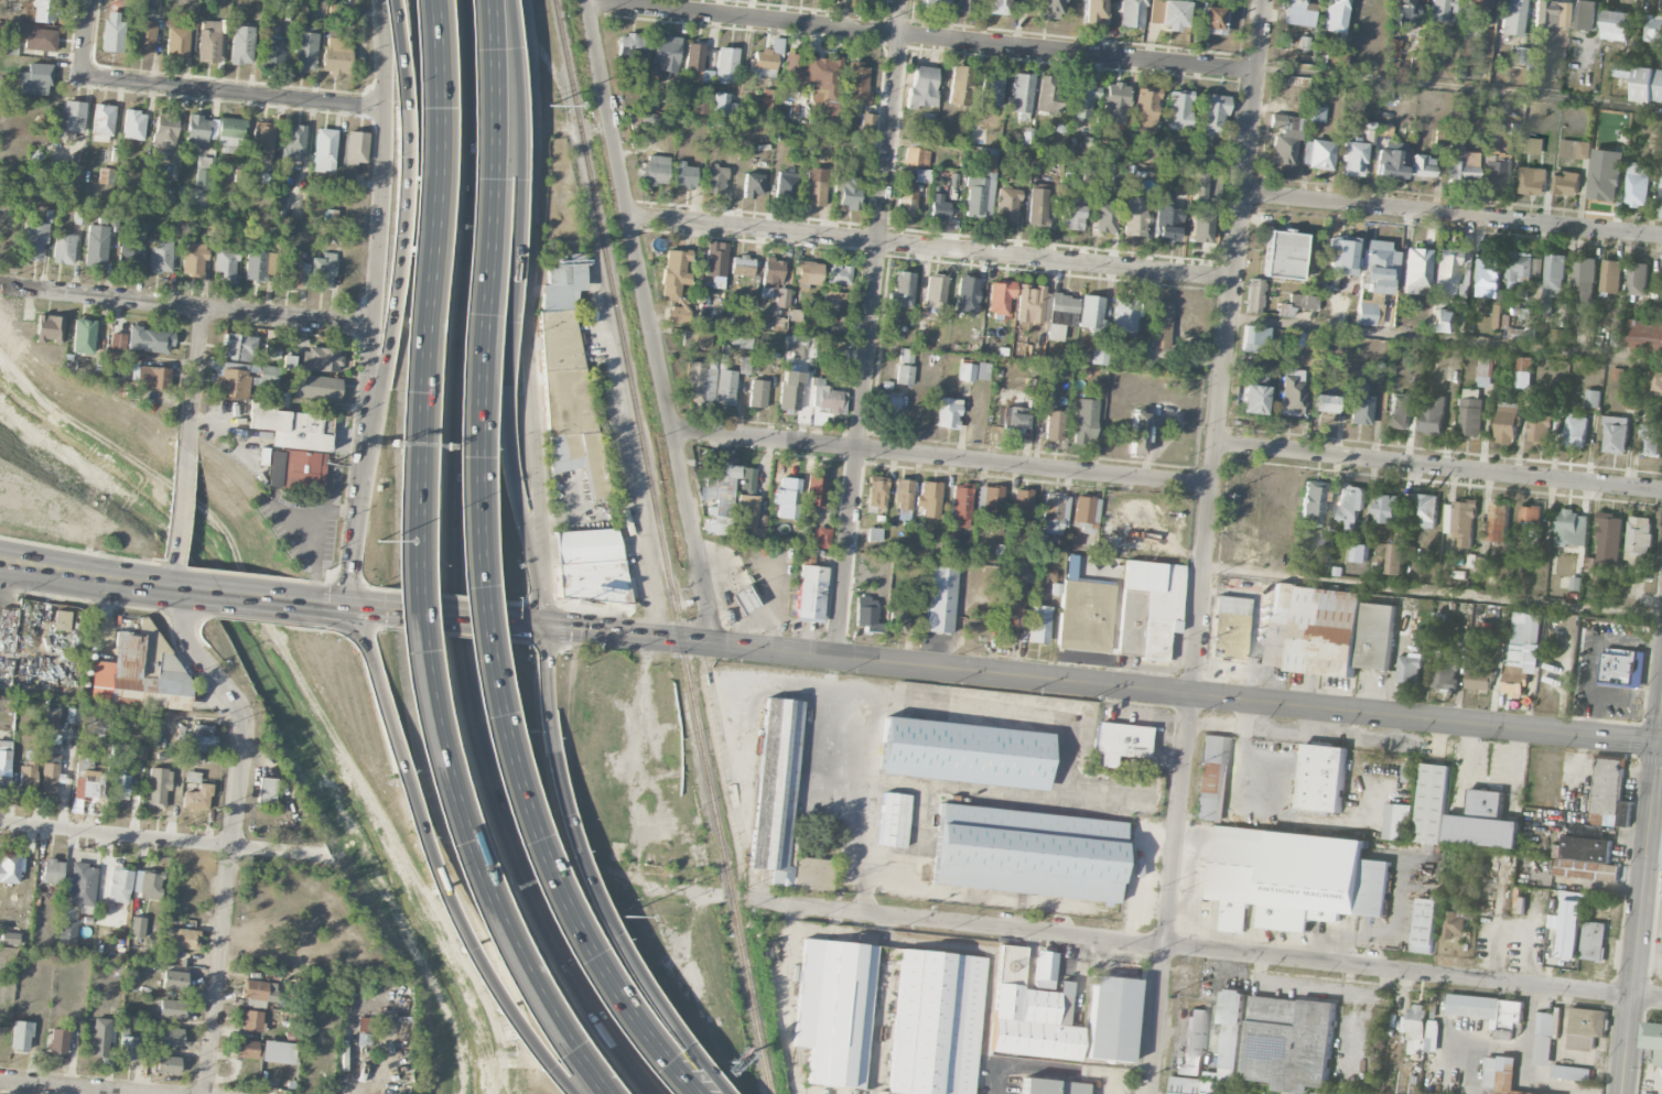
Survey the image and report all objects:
building: (933, 4)
building: (964, 6)
building: (996, 7)
building: (288, 9)
building: (1047, 9)
building: (45, 10)
building: (1439, 10)
building: (1154, 11)
building: (1094, 12)
building: (1407, 12)
building: (1131, 13)
building: (1299, 13)
building: (1477, 13)
building: (1551, 13)
building: (1174, 14)
building: (1586, 14)
building: (1336, 15)
building: (1512, 18)
building: (1212, 21)
building: (1617, 25)
building: (1653, 31)
building: (112, 32)
building: (37, 37)
building: (143, 37)
road: (921, 37)
road: (85, 39)
building: (208, 41)
building: (177, 43)
building: (1303, 43)
building: (273, 44)
building: (241, 45)
building: (1393, 47)
building: (305, 50)
building: (634, 51)
road: (401, 52)
building: (666, 54)
building: (337, 55)
building: (1520, 55)
building: (1335, 58)
building: (766, 61)
building: (697, 64)
building: (726, 65)
building: (1623, 69)
building: (1535, 74)
building: (35, 80)
building: (813, 80)
building: (856, 83)
building: (959, 85)
building: (1648, 85)
building: (921, 87)
building: (991, 88)
road: (1459, 89)
road: (235, 94)
building: (1021, 95)
road: (478, 102)
road: (487, 102)
building: (1115, 102)
building: (702, 104)
building: (726, 107)
building: (1146, 107)
building: (1178, 110)
building: (1212, 113)
building: (1315, 113)
building: (68, 119)
building: (102, 123)
building: (865, 123)
building: (133, 124)
building: (197, 131)
building: (230, 134)
building: (163, 136)
building: (262, 139)
building: (1284, 139)
building: (1146, 142)
building: (293, 143)
building: (1532, 145)
building: (356, 148)
building: (1571, 149)
building: (324, 150)
building: (1616, 153)
building: (1317, 154)
building: (916, 156)
building: (1353, 159)
building: (1391, 160)
building: (1211, 162)
building: (1461, 162)
building: (1422, 166)
building: (657, 170)
building: (71, 171)
building: (203, 173)
building: (1496, 173)
building: (684, 175)
building: (922, 175)
building: (106, 176)
building: (715, 180)
building: (1532, 180)
building: (1567, 183)
building: (1604, 184)
building: (1638, 184)
building: (753, 185)
building: (786, 185)
building: (1207, 187)
building: (848, 192)
building: (814, 193)
road: (519, 195)
building: (979, 196)
building: (1075, 199)
building: (906, 202)
road: (432, 203)
road: (452, 204)
building: (1006, 205)
building: (1037, 206)
building: (938, 208)
building: (1661, 208)
road: (1453, 214)
building: (101, 216)
building: (1102, 216)
building: (1135, 216)
building: (79, 217)
building: (1071, 217)
building: (1167, 223)
building: (143, 224)
building: (1198, 228)
building: (33, 240)
building: (96, 246)
building: (64, 249)
road: (930, 249)
building: (129, 254)
building: (1284, 254)
building: (1342, 254)
building: (161, 257)
building: (715, 259)
building: (194, 260)
building: (224, 263)
building: (256, 266)
building: (742, 266)
building: (1379, 267)
building: (1522, 268)
building: (1416, 271)
building: (1446, 271)
building: (322, 272)
building: (808, 272)
building: (771, 275)
building: (839, 275)
building: (1610, 275)
building: (293, 277)
building: (1487, 278)
building: (1553, 278)
building: (1637, 279)
building: (676, 282)
building: (1583, 284)
building: (902, 290)
building: (935, 293)
building: (967, 294)
building: (1254, 295)
building: (1000, 296)
building: (1303, 301)
road: (378, 303)
road: (397, 304)
building: (1032, 304)
road: (188, 305)
building: (781, 305)
building: (1368, 310)
building: (1284, 311)
road: (528, 312)
building: (1091, 313)
building: (795, 315)
building: (1060, 315)
building: (1124, 316)
railway: (617, 319)
building: (560, 321)
road: (650, 321)
building: (1444, 321)
building: (1161, 326)
road: (871, 327)
building: (50, 328)
building: (84, 336)
building: (741, 338)
building: (1254, 339)
building: (150, 340)
road: (1446, 340)
building: (118, 342)
building: (801, 346)
building: (238, 347)
building: (271, 350)
building: (906, 356)
building: (1099, 357)
building: (320, 359)
building: (982, 370)
building: (1485, 371)
building: (1522, 371)
building: (965, 372)
building: (267, 375)
building: (904, 375)
building: (152, 378)
road: (194, 380)
building: (700, 380)
building: (1653, 381)
building: (319, 388)
building: (725, 388)
building: (790, 390)
building: (1253, 390)
building: (1292, 392)
building: (758, 393)
building: (1593, 398)
building: (825, 401)
building: (887, 403)
building: (1325, 404)
building: (1360, 405)
building: (1400, 411)
road: (622, 413)
building: (948, 413)
building: (1433, 413)
building: (1470, 413)
building: (1084, 421)
building: (1507, 423)
building: (1054, 425)
building: (291, 427)
building: (1540, 429)
building: (1575, 431)
building: (1137, 432)
building: (1616, 434)
building: (1651, 437)
road: (943, 458)
building: (578, 463)
building: (303, 468)
road: (1439, 468)
building: (747, 479)
building: (814, 490)
road: (519, 491)
building: (876, 492)
building: (1240, 494)
building: (786, 498)
building: (903, 498)
building: (929, 498)
building: (720, 500)
building: (1312, 503)
building: (961, 506)
building: (1350, 506)
road: (179, 507)
building: (1021, 507)
building: (990, 508)
building: (1386, 508)
building: (1084, 510)
building: (1423, 510)
building: (1053, 513)
building: (747, 514)
building: (1460, 521)
building: (1498, 521)
building: (1531, 521)
building: (1571, 528)
building: (1245, 532)
building: (874, 534)
building: (1639, 534)
building: (820, 538)
road: (319, 539)
building: (1608, 539)
road: (1208, 546)
building: (1359, 552)
building: (1324, 553)
building: (1243, 554)
building: (1395, 559)
road: (415, 566)
building: (591, 566)
road: (473, 572)
road: (171, 574)
road: (99, 576)
building: (810, 593)
road: (1433, 593)
building: (1013, 595)
road: (260, 598)
building: (743, 600)
building: (939, 600)
road: (350, 606)
traffic signals: (352, 607)
building: (1147, 608)
building: (866, 613)
building: (1082, 614)
road: (449, 617)
building: (898, 619)
building: (1439, 619)
building: (62, 620)
building: (1406, 621)
road: (530, 625)
building: (1036, 625)
traffic signals: (544, 626)
building: (1230, 627)
building: (7, 629)
building: (1314, 629)
building: (1375, 636)
road: (1602, 639)
building: (1521, 651)
road: (201, 662)
building: (1445, 668)
building: (1409, 669)
building: (1618, 669)
road: (470, 671)
building: (1477, 672)
building: (140, 673)
road: (767, 684)
road: (1103, 684)
road: (381, 689)
road: (1600, 689)
road: (547, 693)
road: (121, 708)
building: (72, 716)
road: (1147, 717)
building: (52, 718)
road: (1176, 718)
building: (202, 739)
building: (1119, 743)
traffic signals: (1656, 744)
road: (1243, 749)
building: (965, 754)
building: (139, 755)
building: (194, 760)
road: (737, 760)
building: (4, 762)
road: (464, 769)
building: (1409, 771)
building: (48, 775)
building: (26, 777)
building: (192, 777)
building: (1212, 778)
building: (1323, 778)
building: (87, 779)
road: (1490, 779)
road: (863, 786)
building: (119, 787)
building: (158, 787)
building: (266, 790)
building: (776, 790)
building: (1609, 794)
building: (197, 799)
building: (1432, 803)
road: (565, 806)
building: (894, 820)
building: (1396, 821)
building: (1483, 822)
road: (163, 841)
building: (1028, 853)
building: (1585, 858)
railway: (724, 867)
building: (53, 871)
building: (812, 874)
building: (10, 877)
building: (1294, 878)
building: (148, 884)
building: (119, 886)
building: (83, 887)
road: (1640, 893)
road: (224, 908)
road: (835, 921)
building: (1455, 924)
building: (1424, 925)
road: (1515, 925)
road: (886, 927)
building: (137, 928)
building: (1571, 929)
building: (67, 932)
building: (9, 938)
building: (183, 939)
road: (892, 940)
building: (1594, 941)
road: (463, 945)
road: (1201, 951)
building: (1044, 970)
road: (639, 979)
building: (173, 981)
building: (259, 990)
road: (786, 1000)
building: (255, 1004)
building: (171, 1009)
building: (833, 1010)
building: (1489, 1010)
building: (1029, 1014)
building: (1111, 1019)
building: (250, 1020)
building: (936, 1022)
building: (1416, 1022)
building: (365, 1025)
building: (1586, 1028)
building: (1232, 1030)
building: (21, 1036)
building: (1433, 1036)
building: (99, 1038)
building: (170, 1038)
building: (1544, 1038)
building: (363, 1039)
building: (1653, 1040)
building: (58, 1041)
building: (1195, 1042)
building: (1291, 1042)
road: (1487, 1042)
building: (128, 1048)
building: (246, 1049)
building: (278, 1052)
building: (166, 1064)
road: (1523, 1070)
building: (1571, 1072)
building: (1500, 1075)
road: (74, 1085)
building: (1051, 1087)
road: (1115, 1093)
building: (1318, 1093)

